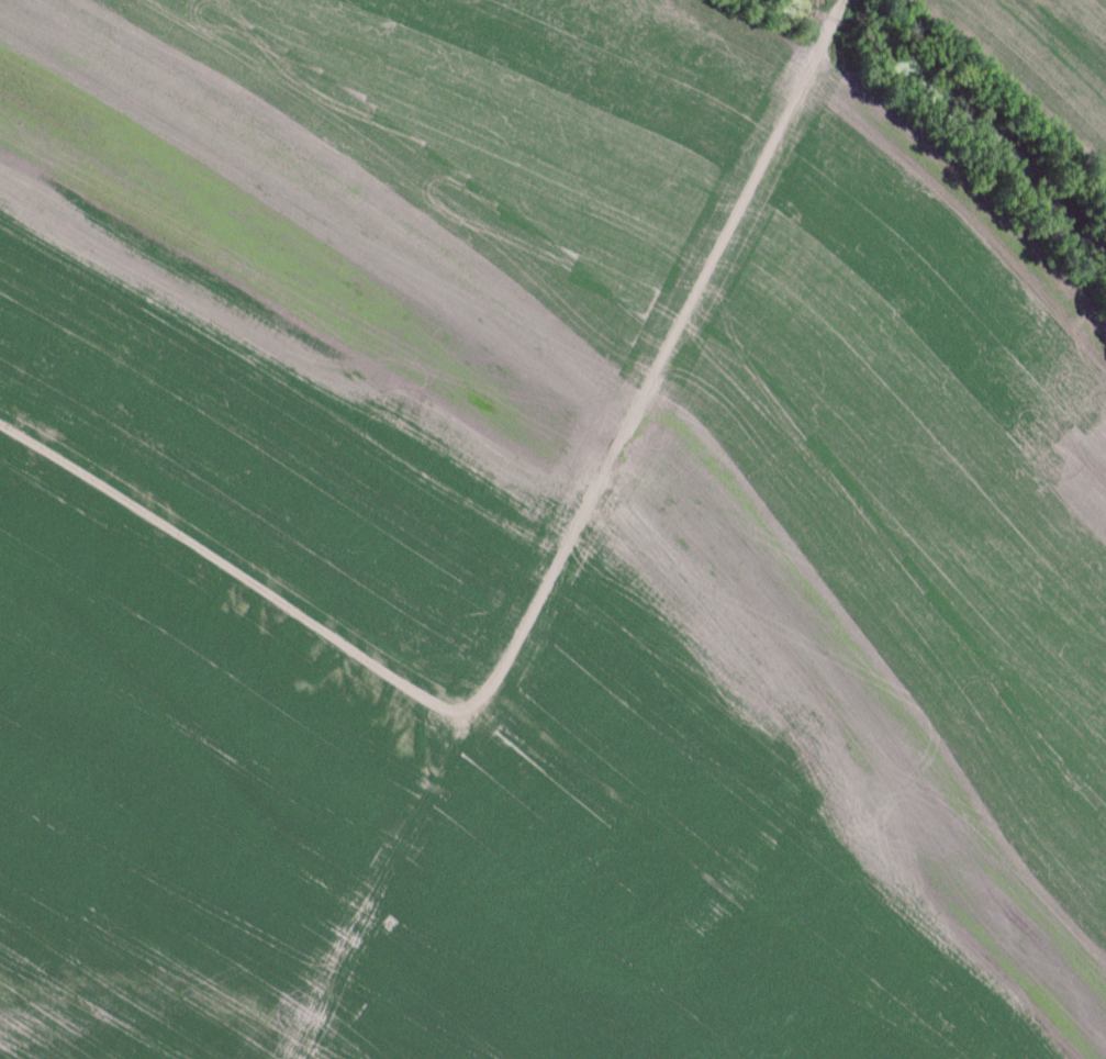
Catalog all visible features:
road: (825, 29)

